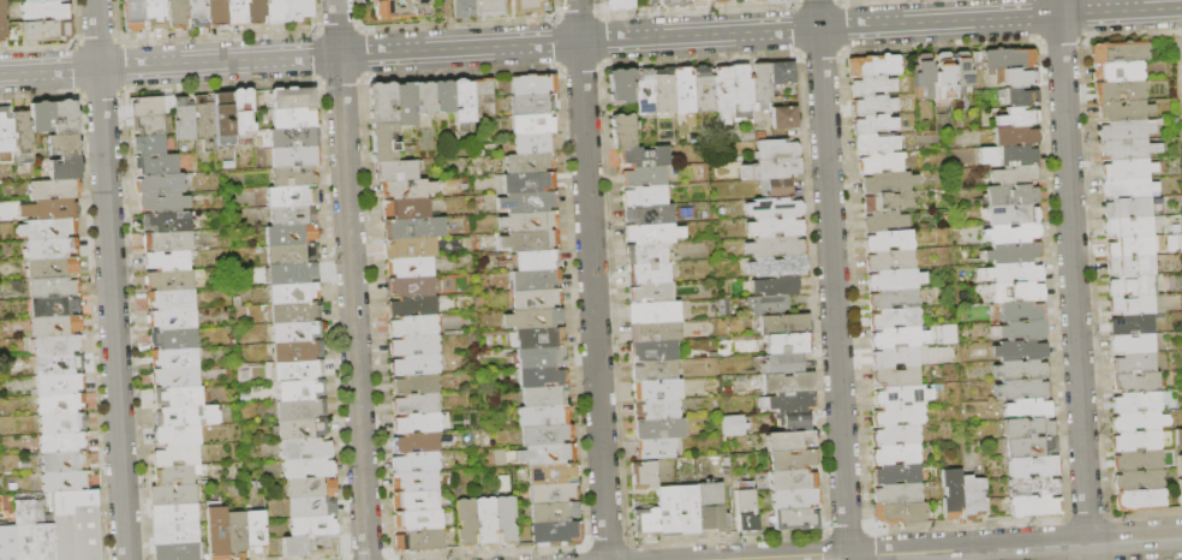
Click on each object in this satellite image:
building: (43, 0)
building: (698, 0)
building: (759, 0)
building: (720, 1)
building: (780, 1)
road: (817, 1)
road: (838, 1)
road: (860, 1)
building: (673, 2)
road: (794, 2)
building: (619, 5)
building: (529, 7)
road: (1057, 7)
building: (299, 8)
building: (401, 8)
building: (464, 8)
building: (490, 8)
road: (697, 10)
building: (44, 11)
road: (1120, 11)
building: (237, 12)
building: (257, 12)
building: (276, 12)
building: (179, 13)
building: (219, 13)
road: (577, 13)
road: (598, 13)
building: (156, 14)
building: (198, 14)
road: (554, 14)
building: (135, 16)
road: (1082, 17)
road: (1035, 18)
building: (4, 20)
road: (446, 23)
road: (456, 23)
road: (842, 25)
road: (336, 28)
road: (358, 29)
road: (795, 29)
road: (314, 30)
building: (47, 31)
road: (216, 37)
road: (1038, 38)
road: (1082, 38)
road: (602, 40)
road: (1059, 40)
road: (1180, 40)
road: (96, 42)
road: (118, 42)
road: (555, 42)
road: (73, 43)
road: (529, 43)
road: (939, 43)
road: (36, 47)
road: (841, 50)
road: (363, 53)
road: (798, 53)
road: (819, 53)
building: (1121, 53)
road: (315, 56)
road: (700, 58)
building: (1009, 59)
road: (602, 65)
building: (874, 66)
road: (121, 67)
road: (557, 67)
road: (580, 67)
building: (963, 68)
road: (74, 70)
road: (460, 71)
building: (1120, 72)
building: (783, 73)
building: (925, 75)
road: (362, 78)
building: (1020, 78)
road: (339, 79)
building: (944, 79)
road: (317, 81)
building: (535, 84)
road: (220, 85)
building: (621, 85)
building: (762, 85)
building: (872, 85)
building: (665, 90)
building: (683, 90)
building: (703, 90)
road: (121, 91)
building: (742, 91)
building: (1121, 91)
road: (77, 94)
road: (98, 94)
building: (723, 94)
road: (37, 95)
building: (646, 95)
building: (444, 96)
building: (425, 97)
building: (1020, 97)
building: (293, 99)
building: (483, 99)
building: (464, 101)
building: (382, 103)
building: (406, 105)
building: (533, 105)
building: (873, 106)
building: (148, 107)
building: (1126, 111)
building: (243, 114)
building: (43, 117)
building: (1019, 117)
building: (66, 118)
building: (185, 118)
building: (786, 118)
building: (223, 119)
building: (295, 119)
building: (205, 120)
building: (535, 125)
building: (874, 125)
building: (149, 126)
building: (623, 131)
building: (1127, 131)
building: (6, 136)
building: (1017, 136)
building: (23, 138)
building: (295, 138)
building: (384, 143)
building: (535, 144)
building: (877, 144)
building: (65, 145)
building: (150, 145)
building: (777, 149)
building: (1129, 149)
building: (297, 156)
building: (1009, 156)
building: (645, 157)
building: (530, 163)
building: (882, 163)
building: (157, 165)
building: (65, 168)
building: (772, 169)
building: (1129, 169)
building: (398, 171)
building: (1015, 175)
building: (294, 177)
building: (645, 177)
building: (890, 183)
building: (161, 184)
building: (525, 184)
building: (407, 189)
building: (778, 189)
building: (1129, 189)
building: (54, 190)
building: (1013, 195)
building: (646, 196)
building: (291, 197)
building: (890, 202)
building: (165, 203)
building: (530, 203)
building: (775, 208)
building: (1128, 208)
building: (407, 209)
building: (52, 210)
building: (649, 215)
building: (1013, 215)
building: (293, 216)
building: (885, 221)
building: (530, 222)
building: (168, 224)
building: (1130, 227)
building: (49, 228)
building: (414, 228)
building: (776, 228)
building: (653, 234)
building: (1013, 234)
building: (292, 236)
building: (889, 240)
building: (531, 242)
building: (169, 243)
building: (777, 246)
building: (52, 248)
building: (1132, 248)
building: (410, 249)
building: (1013, 252)
building: (647, 254)
building: (292, 255)
building: (538, 261)
building: (890, 261)
building: (168, 262)
building: (1132, 266)
building: (54, 267)
building: (410, 267)
building: (778, 267)
building: (1015, 273)
building: (292, 274)
building: (649, 274)
road: (351, 279)
road: (591, 279)
road: (832, 279)
road: (109, 280)
building: (536, 280)
building: (896, 280)
building: (171, 281)
building: (1132, 285)
building: (411, 286)
building: (777, 286)
building: (55, 287)
road: (1073, 287)
building: (1019, 292)
building: (294, 293)
building: (651, 293)
building: (537, 299)
building: (895, 299)
building: (172, 300)
building: (1138, 304)
building: (769, 305)
building: (56, 306)
building: (413, 306)
building: (1022, 311)
building: (295, 312)
building: (653, 312)
building: (896, 318)
building: (172, 320)
building: (535, 320)
building: (786, 324)
building: (1133, 324)
building: (58, 326)
building: (414, 327)
building: (1023, 330)
building: (297, 332)
building: (655, 332)
building: (542, 338)
building: (900, 338)
building: (174, 339)
building: (788, 344)
building: (1134, 344)
building: (56, 345)
building: (416, 346)
building: (655, 351)
building: (1020, 351)
building: (298, 352)
building: (935, 355)
building: (897, 357)
building: (175, 358)
building: (542, 358)
building: (783, 364)
building: (1135, 364)
building: (59, 365)
building: (417, 365)
building: (1021, 370)
building: (298, 371)
building: (655, 371)
building: (177, 377)
building: (542, 377)
building: (899, 377)
building: (789, 383)
building: (1138, 383)
building: (61, 385)
building: (417, 385)
building: (657, 389)
building: (1022, 389)
building: (300, 391)
building: (179, 397)
building: (545, 397)
building: (903, 397)
building: (792, 401)
building: (1139, 403)
building: (61, 404)
building: (417, 404)
building: (1029, 409)
building: (302, 410)
building: (658, 410)
building: (187, 416)
building: (900, 416)
building: (544, 417)
building: (794, 422)
building: (1140, 422)
building: (62, 423)
building: (419, 423)
building: (730, 424)
building: (1029, 428)
building: (661, 429)
building: (303, 430)
building: (178, 435)
building: (548, 435)
building: (897, 435)
building: (792, 441)
building: (1138, 441)
building: (62, 442)
building: (418, 442)
building: (1031, 447)
building: (656, 448)
building: (306, 449)
building: (548, 454)
building: (897, 454)
building: (178, 455)
building: (794, 460)
building: (1139, 460)
building: (65, 461)
building: (417, 463)
building: (1180, 464)
building: (1034, 466)
building: (309, 469)
building: (553, 473)
building: (178, 475)
building: (897, 475)
building: (645, 476)
building: (794, 479)
building: (1140, 479)
building: (66, 481)
building: (416, 481)
building: (1033, 485)
building: (1181, 485)
building: (312, 487)
building: (555, 493)
building: (899, 494)
building: (953, 494)
building: (174, 495)
building: (711, 495)
building: (974, 498)
building: (795, 499)
building: (1141, 500)
building: (417, 501)
building: (1034, 506)
building: (312, 507)
building: (747, 510)
building: (679, 511)
building: (555, 512)
building: (901, 513)
building: (175, 516)
building: (507, 519)
building: (714, 519)
building: (796, 519)
building: (418, 520)
building: (486, 520)
building: (467, 522)
building: (647, 523)
building: (77, 525)
building: (314, 528)
building: (217, 530)
building: (34, 532)
building: (257, 532)
building: (557, 532)
building: (175, 534)
building: (238, 535)
building: (420, 540)
building: (7, 543)
building: (310, 547)
road: (981, 548)
building: (178, 550)

